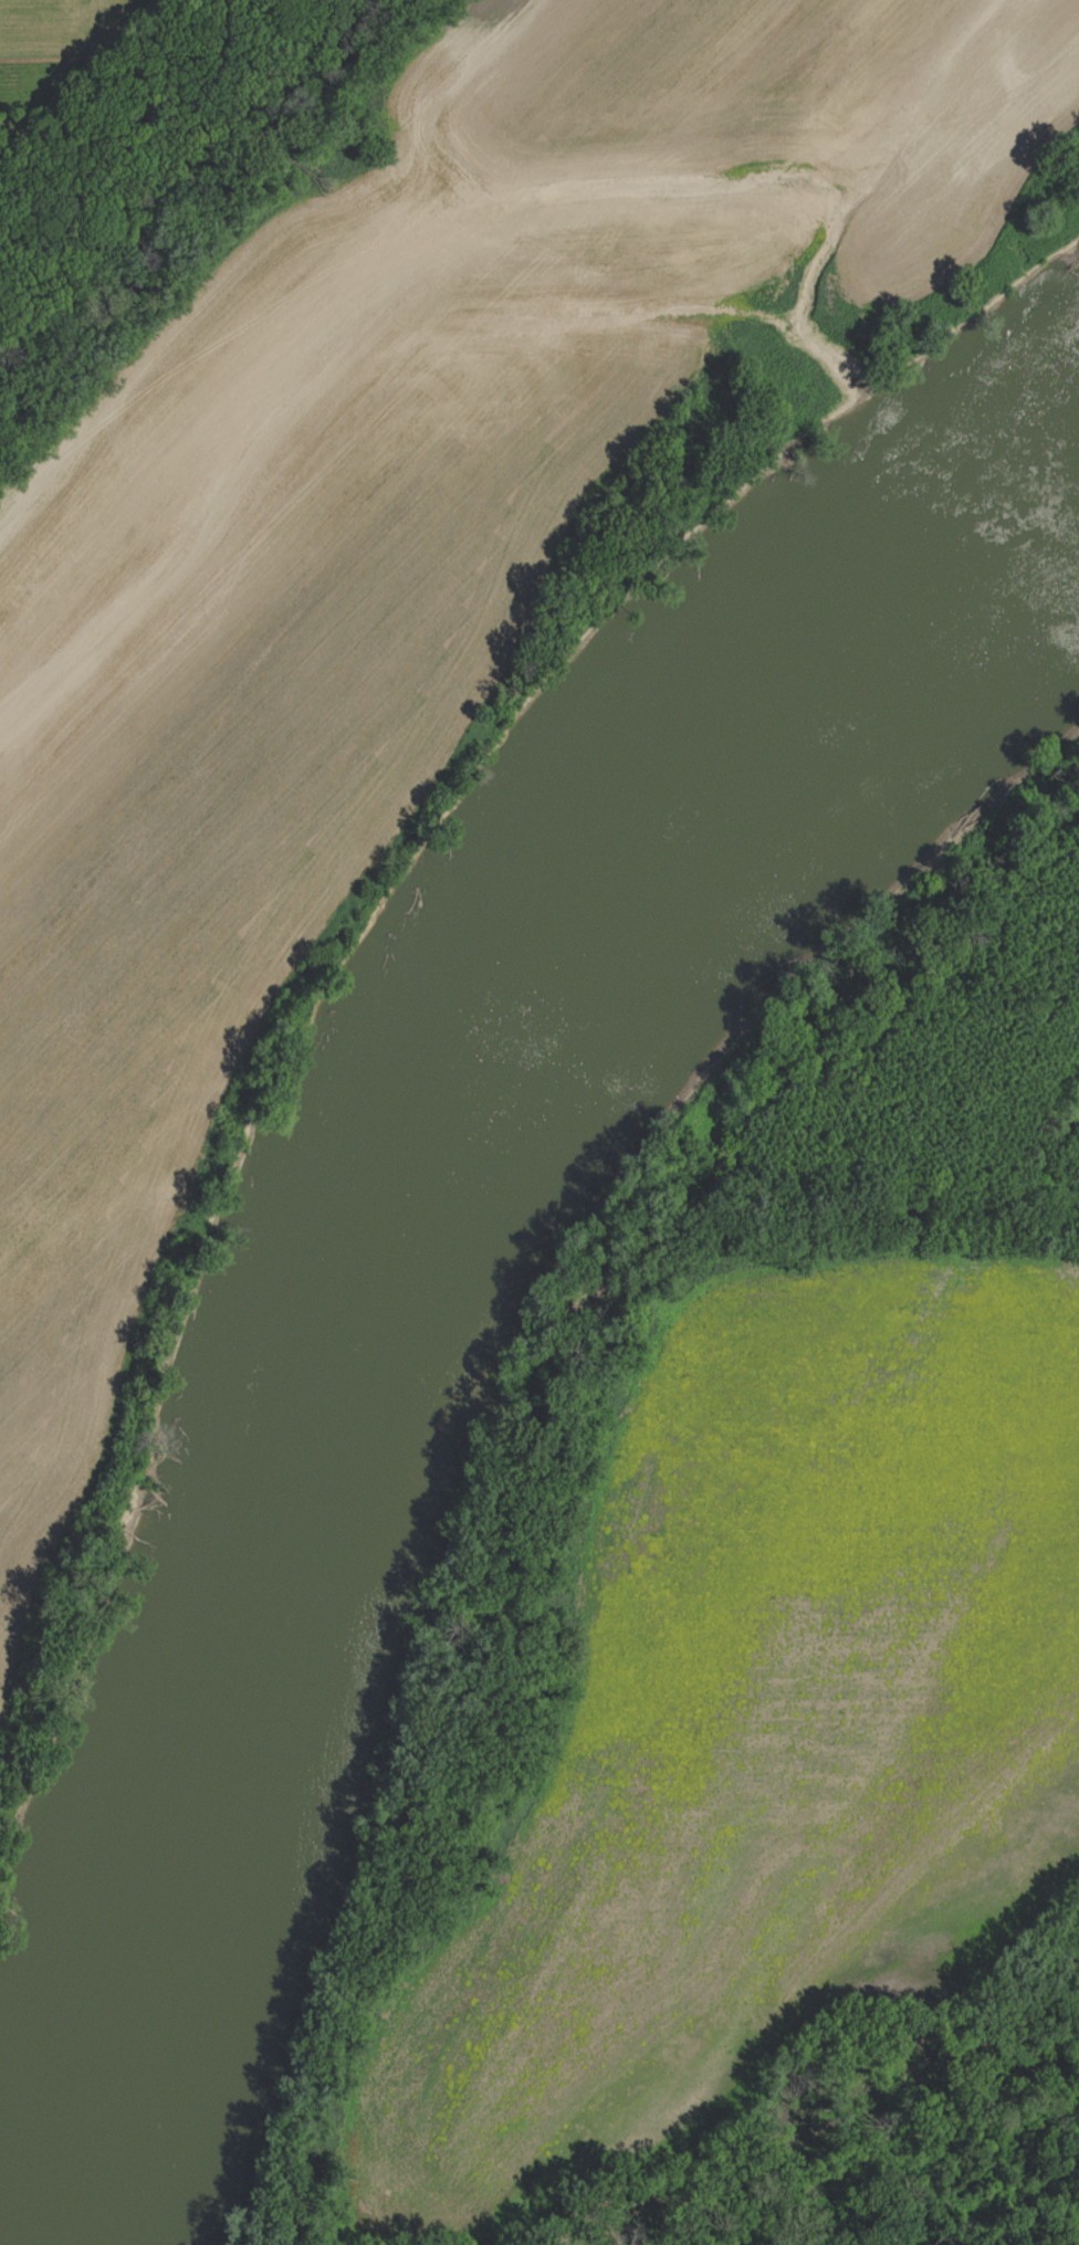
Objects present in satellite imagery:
river: (451, 1247)

